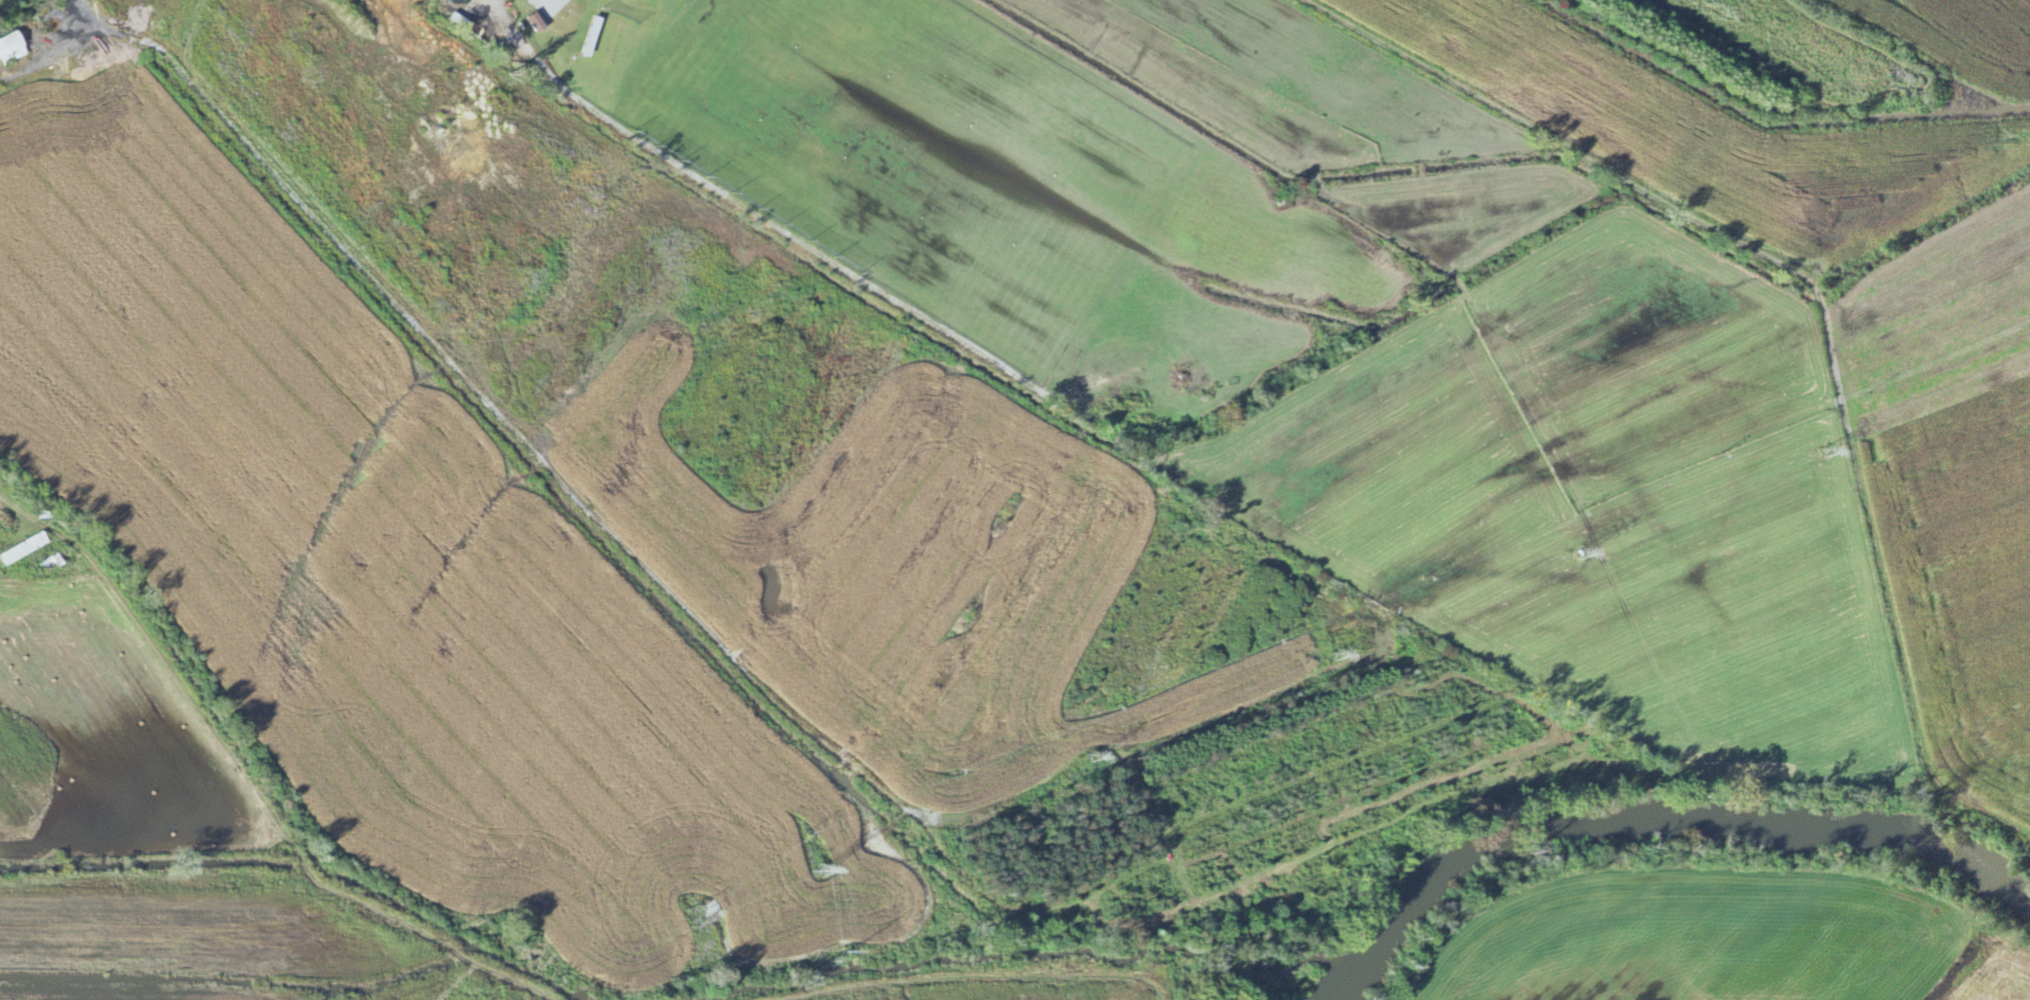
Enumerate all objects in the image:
building: (12, 49)
road: (1626, 182)
power tower: (1828, 451)
building: (25, 550)
power tower: (1582, 551)
power tower: (1334, 653)
power tower: (1089, 756)
river: (1662, 825)
power tower: (808, 870)
river: (1338, 995)

